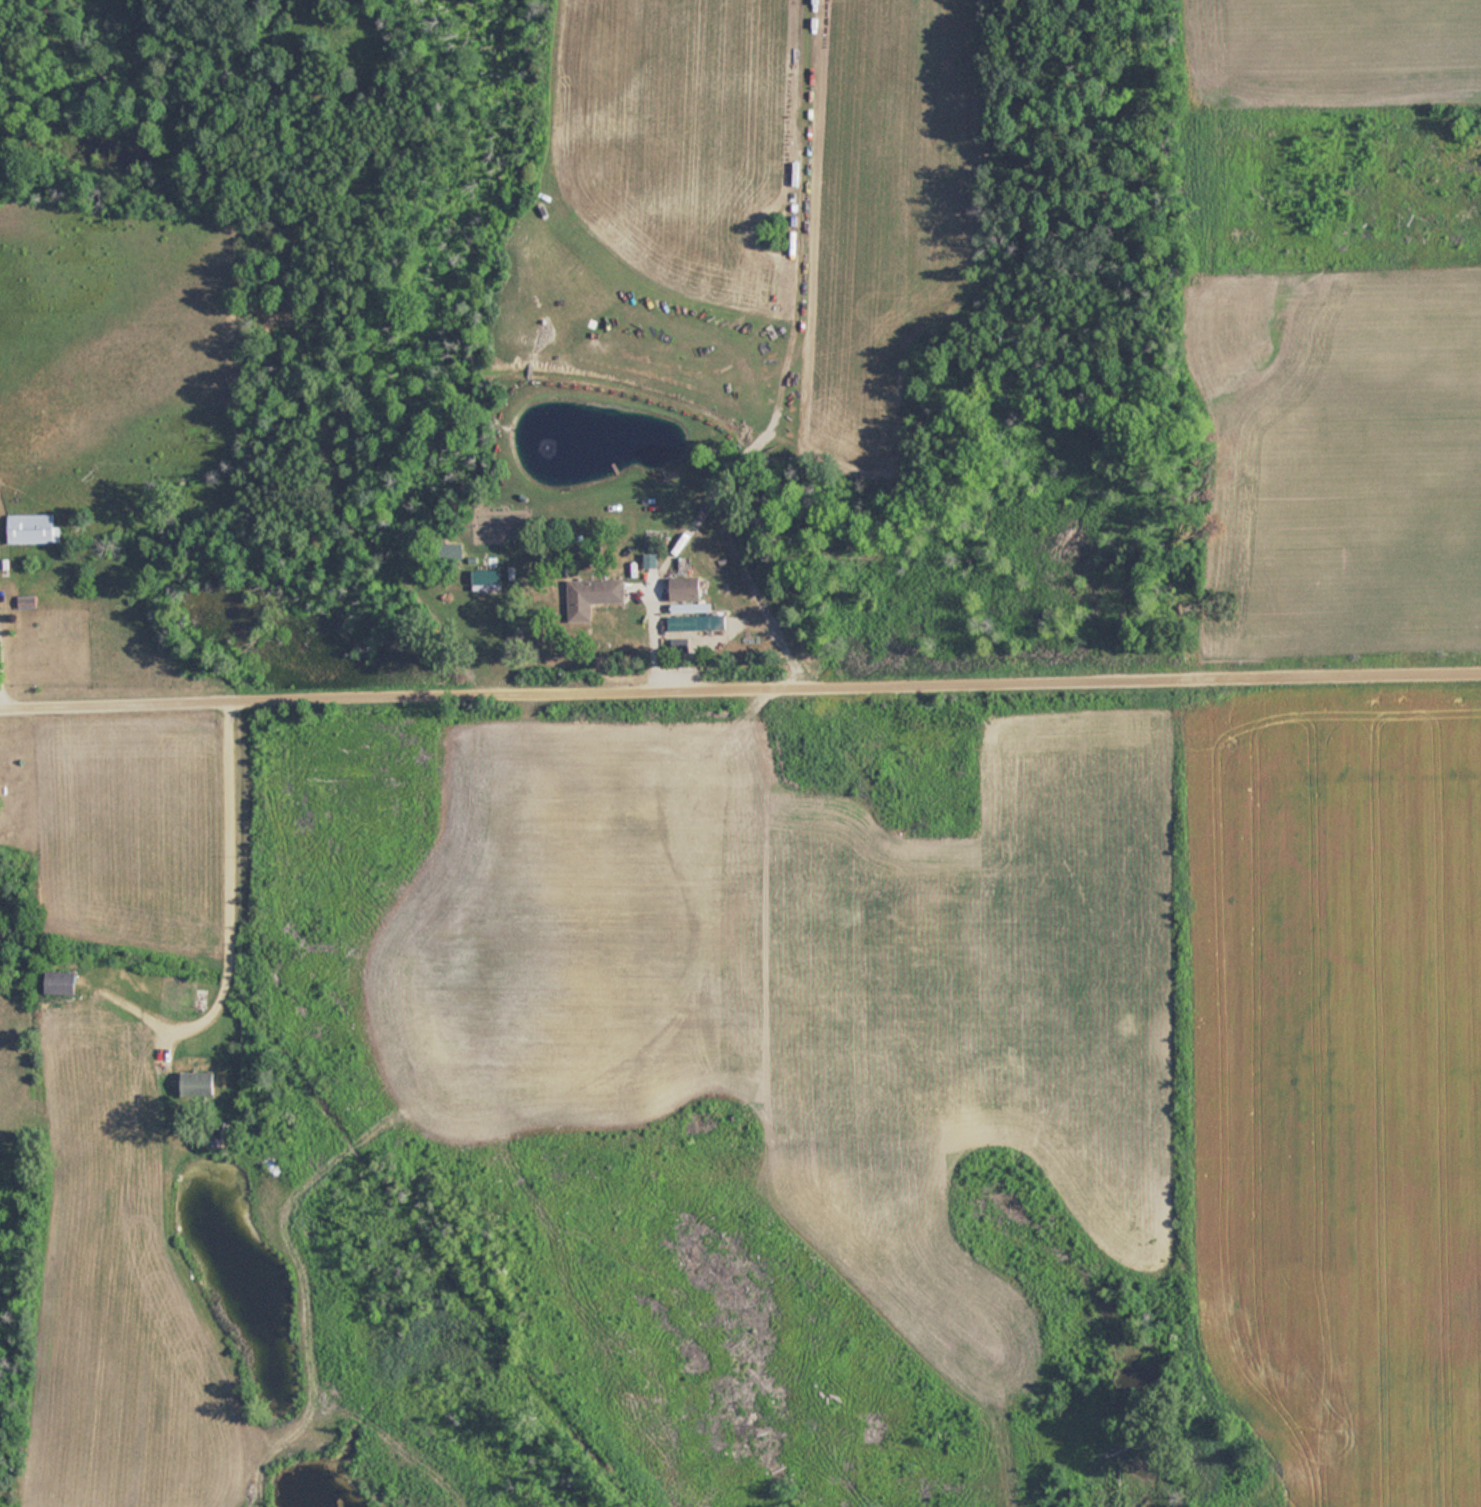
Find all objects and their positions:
building: (33, 529)
building: (454, 551)
building: (592, 596)
road: (740, 691)
road: (1, 693)
road: (223, 915)
building: (62, 983)
building: (198, 1084)

